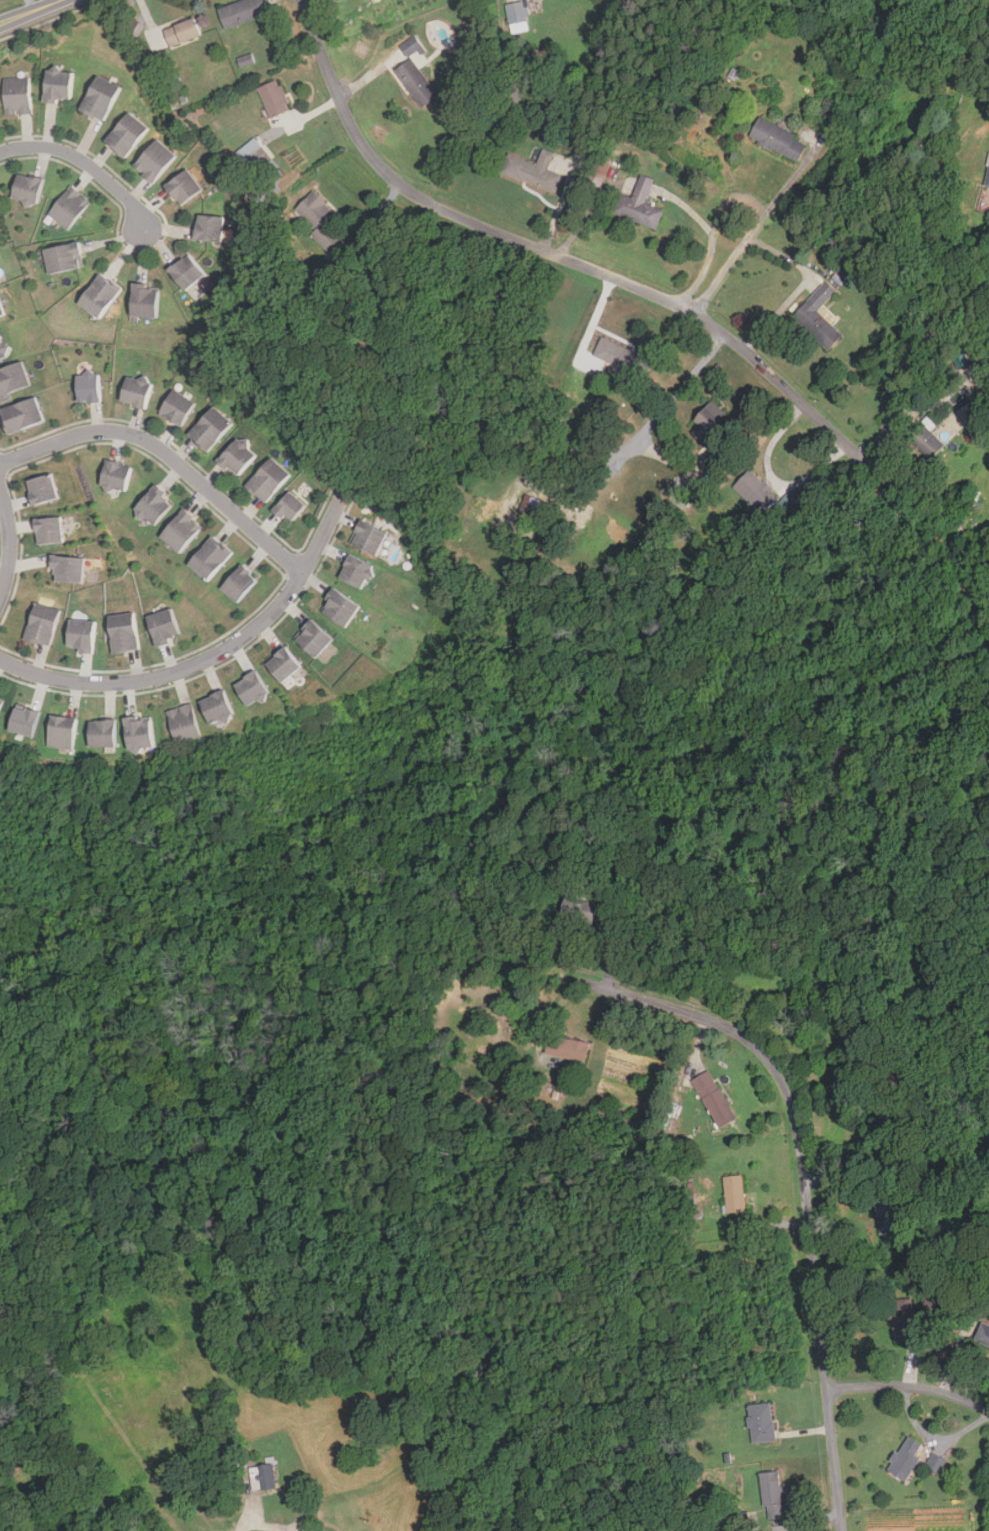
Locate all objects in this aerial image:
building: (243, 11)
road: (31, 12)
building: (517, 12)
building: (182, 32)
building: (411, 46)
building: (416, 82)
building: (57, 85)
building: (16, 95)
building: (98, 97)
building: (274, 98)
building: (125, 133)
building: (778, 139)
building: (254, 155)
building: (153, 160)
road: (85, 162)
building: (533, 170)
building: (596, 175)
building: (987, 177)
building: (182, 186)
building: (26, 188)
building: (639, 204)
building: (68, 207)
building: (318, 216)
building: (209, 227)
road: (753, 230)
building: (64, 257)
road: (568, 260)
road: (716, 262)
building: (187, 271)
road: (801, 287)
building: (100, 294)
building: (144, 300)
building: (1, 311)
building: (819, 317)
building: (3, 348)
building: (621, 356)
building: (12, 379)
building: (88, 387)
building: (135, 391)
building: (175, 407)
building: (21, 414)
road: (655, 419)
building: (710, 422)
building: (209, 428)
building: (926, 437)
road: (168, 453)
building: (236, 456)
building: (115, 475)
road: (774, 477)
building: (267, 479)
building: (42, 489)
building: (757, 491)
building: (790, 501)
building: (154, 505)
building: (532, 506)
building: (288, 507)
building: (48, 530)
building: (181, 530)
building: (369, 537)
road: (11, 543)
building: (210, 557)
building: (67, 568)
building: (356, 571)
building: (239, 582)
building: (340, 607)
building: (42, 624)
building: (164, 626)
building: (124, 632)
building: (80, 634)
building: (314, 638)
road: (211, 657)
building: (284, 664)
building: (253, 688)
building: (2, 706)
building: (218, 707)
building: (29, 720)
building: (185, 724)
building: (143, 731)
building: (67, 732)
building: (109, 734)
building: (579, 911)
building: (567, 1048)
building: (714, 1099)
building: (735, 1194)
road: (802, 1206)
building: (887, 1214)
building: (932, 1306)
building: (902, 1318)
building: (983, 1334)
road: (909, 1388)
building: (761, 1423)
building: (905, 1459)
building: (935, 1463)
building: (263, 1478)
building: (772, 1495)
road: (267, 1526)

